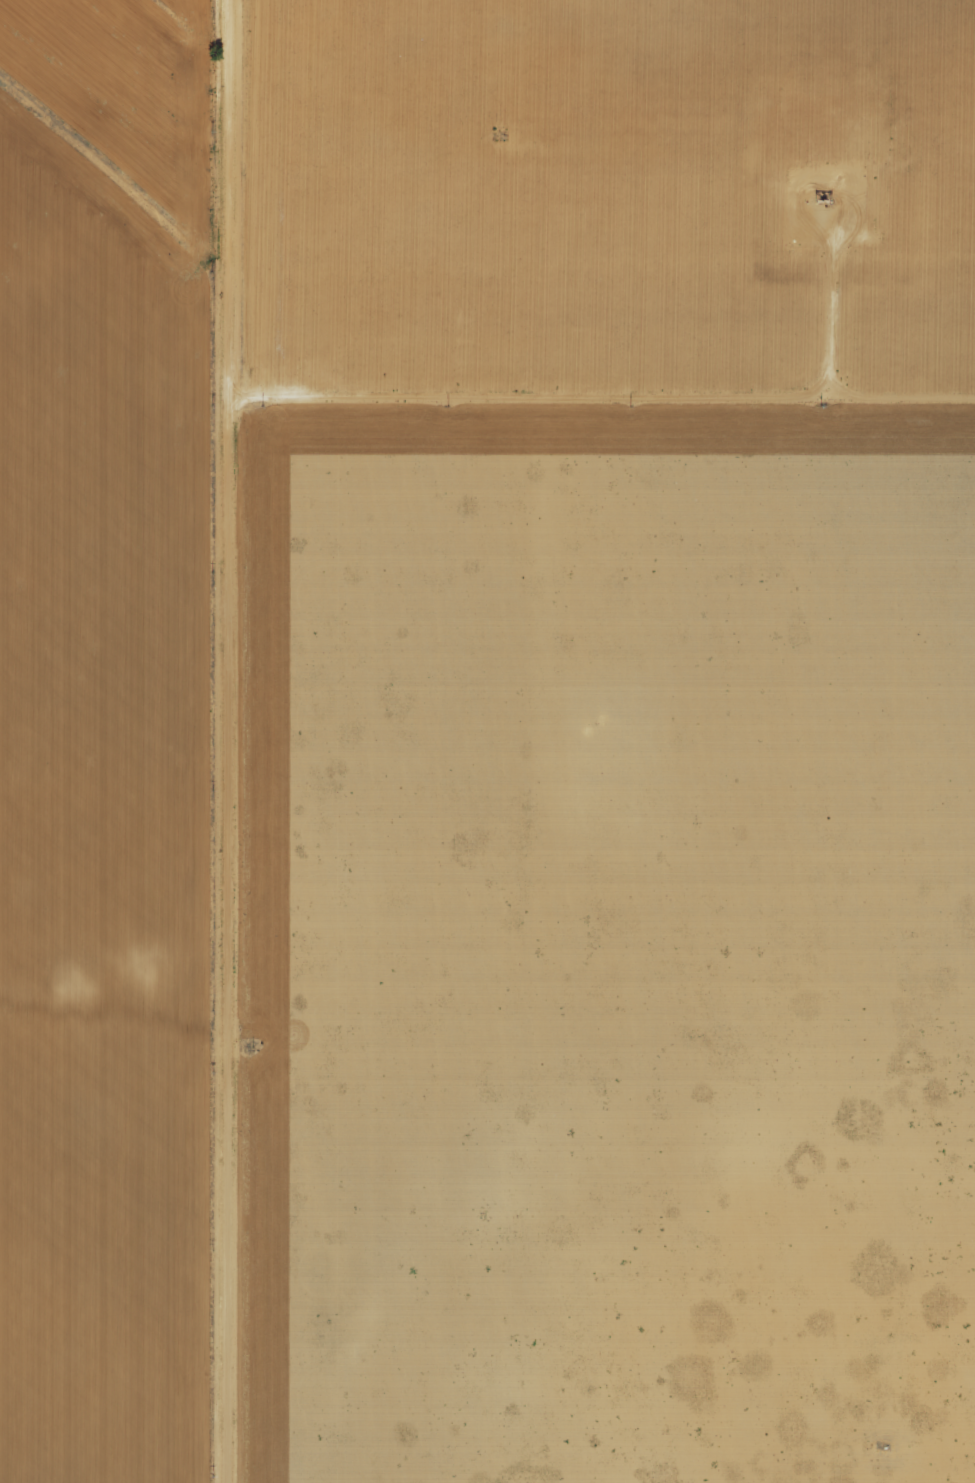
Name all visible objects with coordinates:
road: (232, 741)

